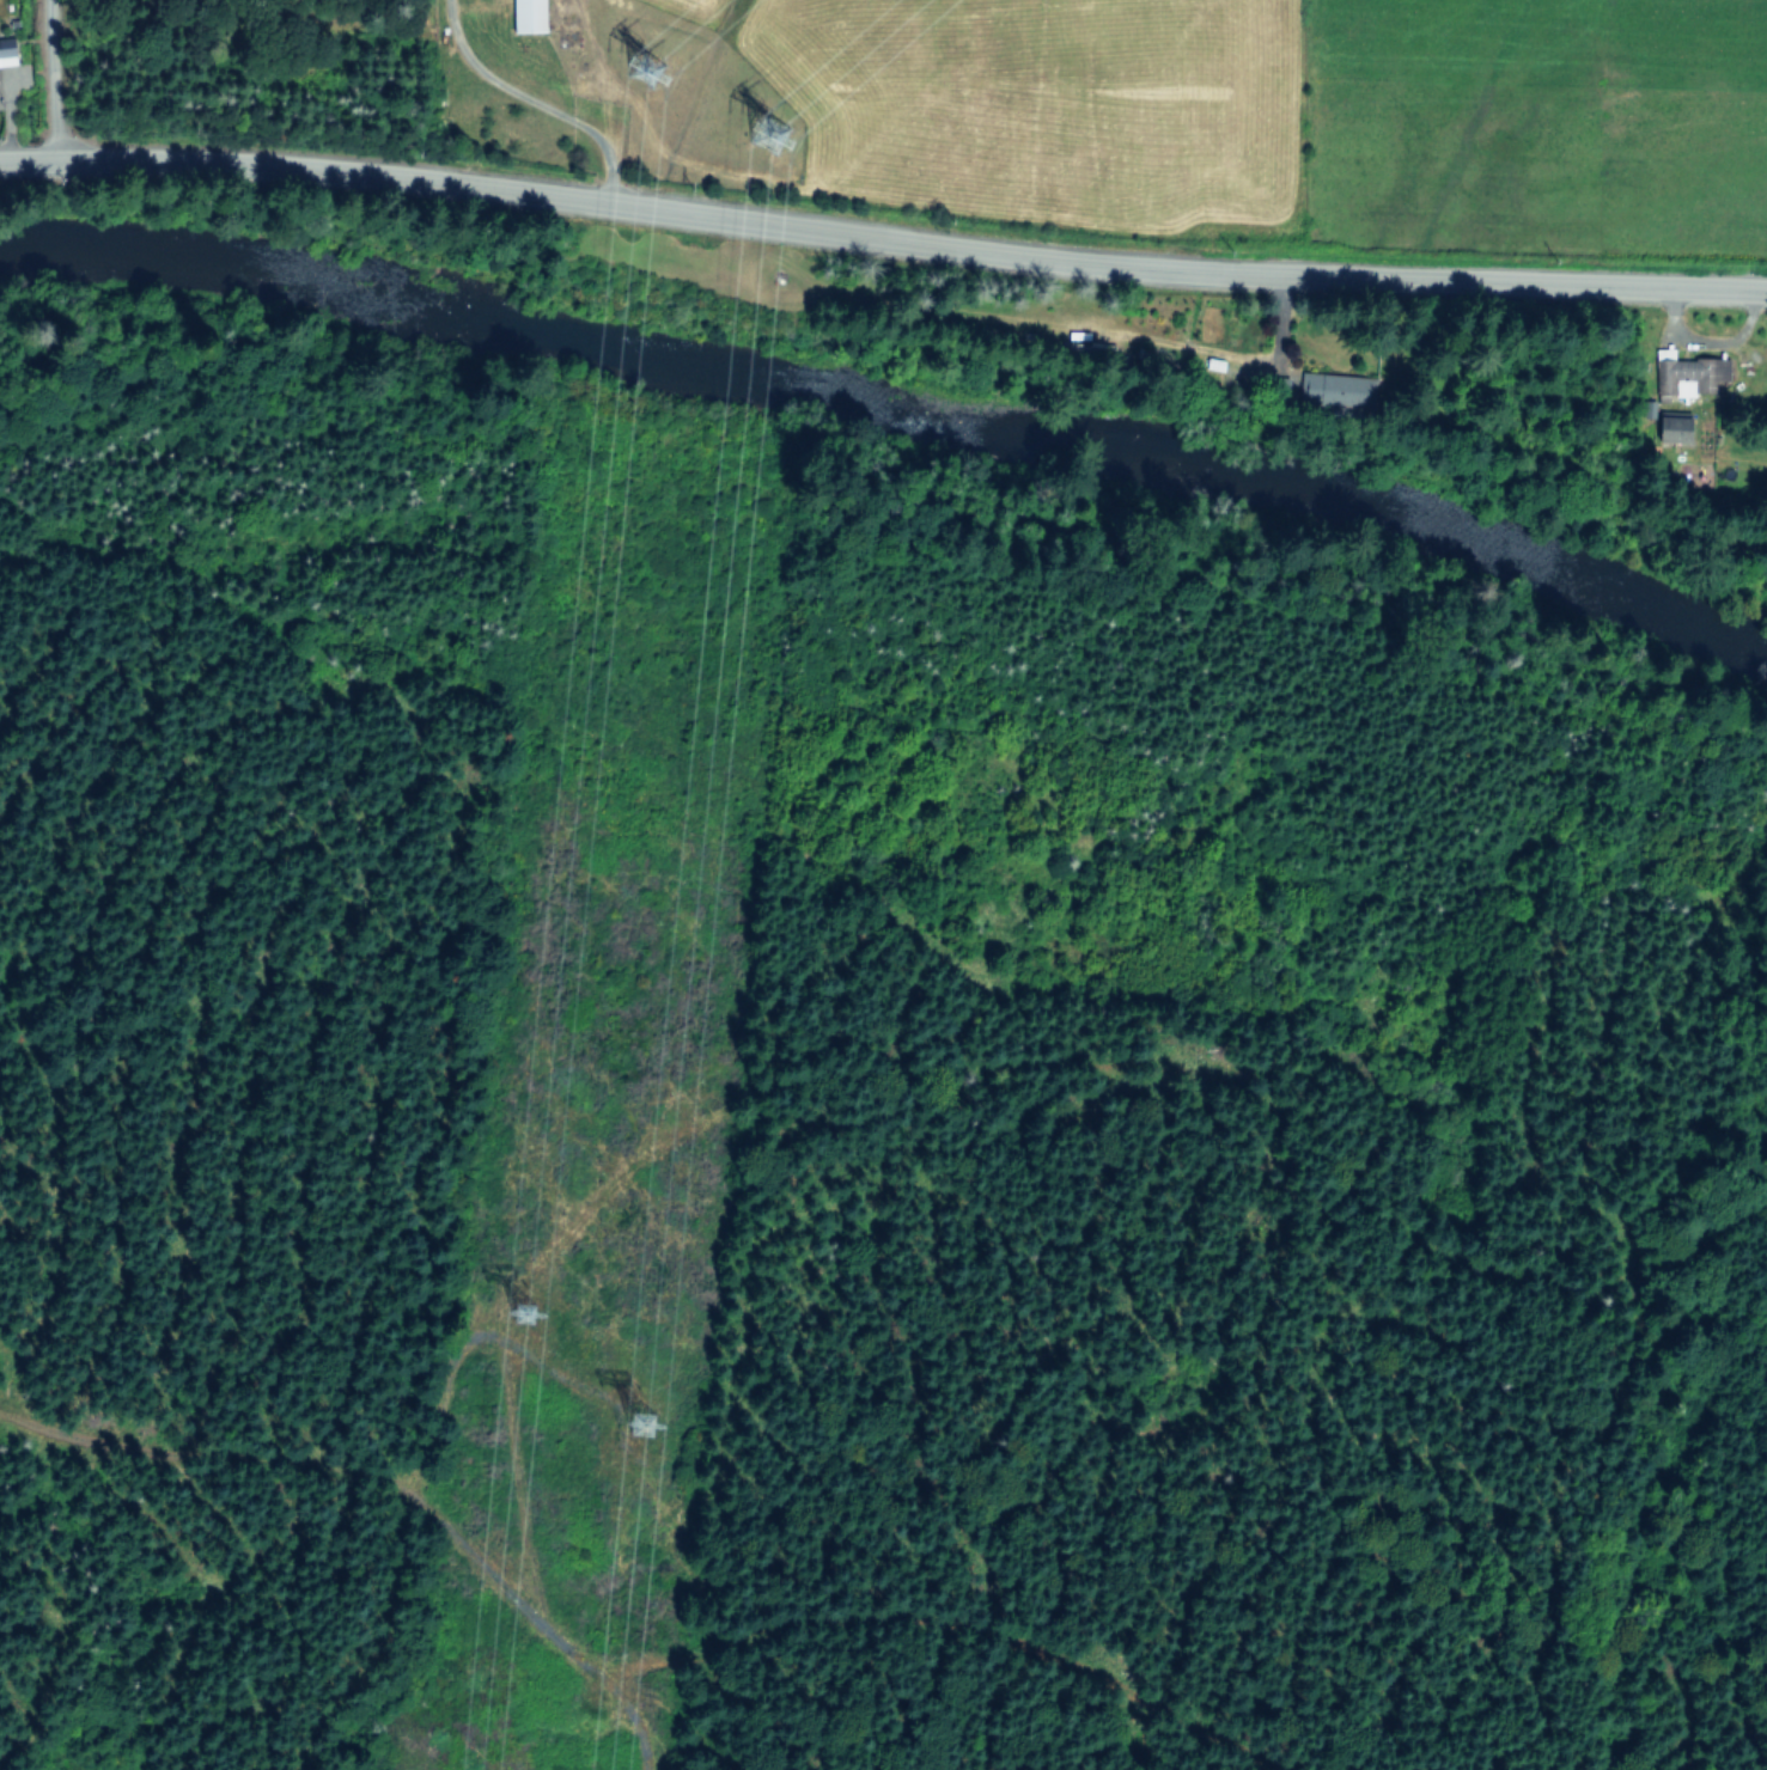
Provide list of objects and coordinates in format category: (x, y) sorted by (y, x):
building: (534, 14)
power tower: (648, 69)
road: (33, 81)
road: (526, 99)
crop: (1170, 106)
power tower: (764, 134)
road: (882, 236)
building: (1690, 374)
building: (1330, 387)
building: (1667, 426)
power tower: (511, 1322)
power tower: (644, 1423)

